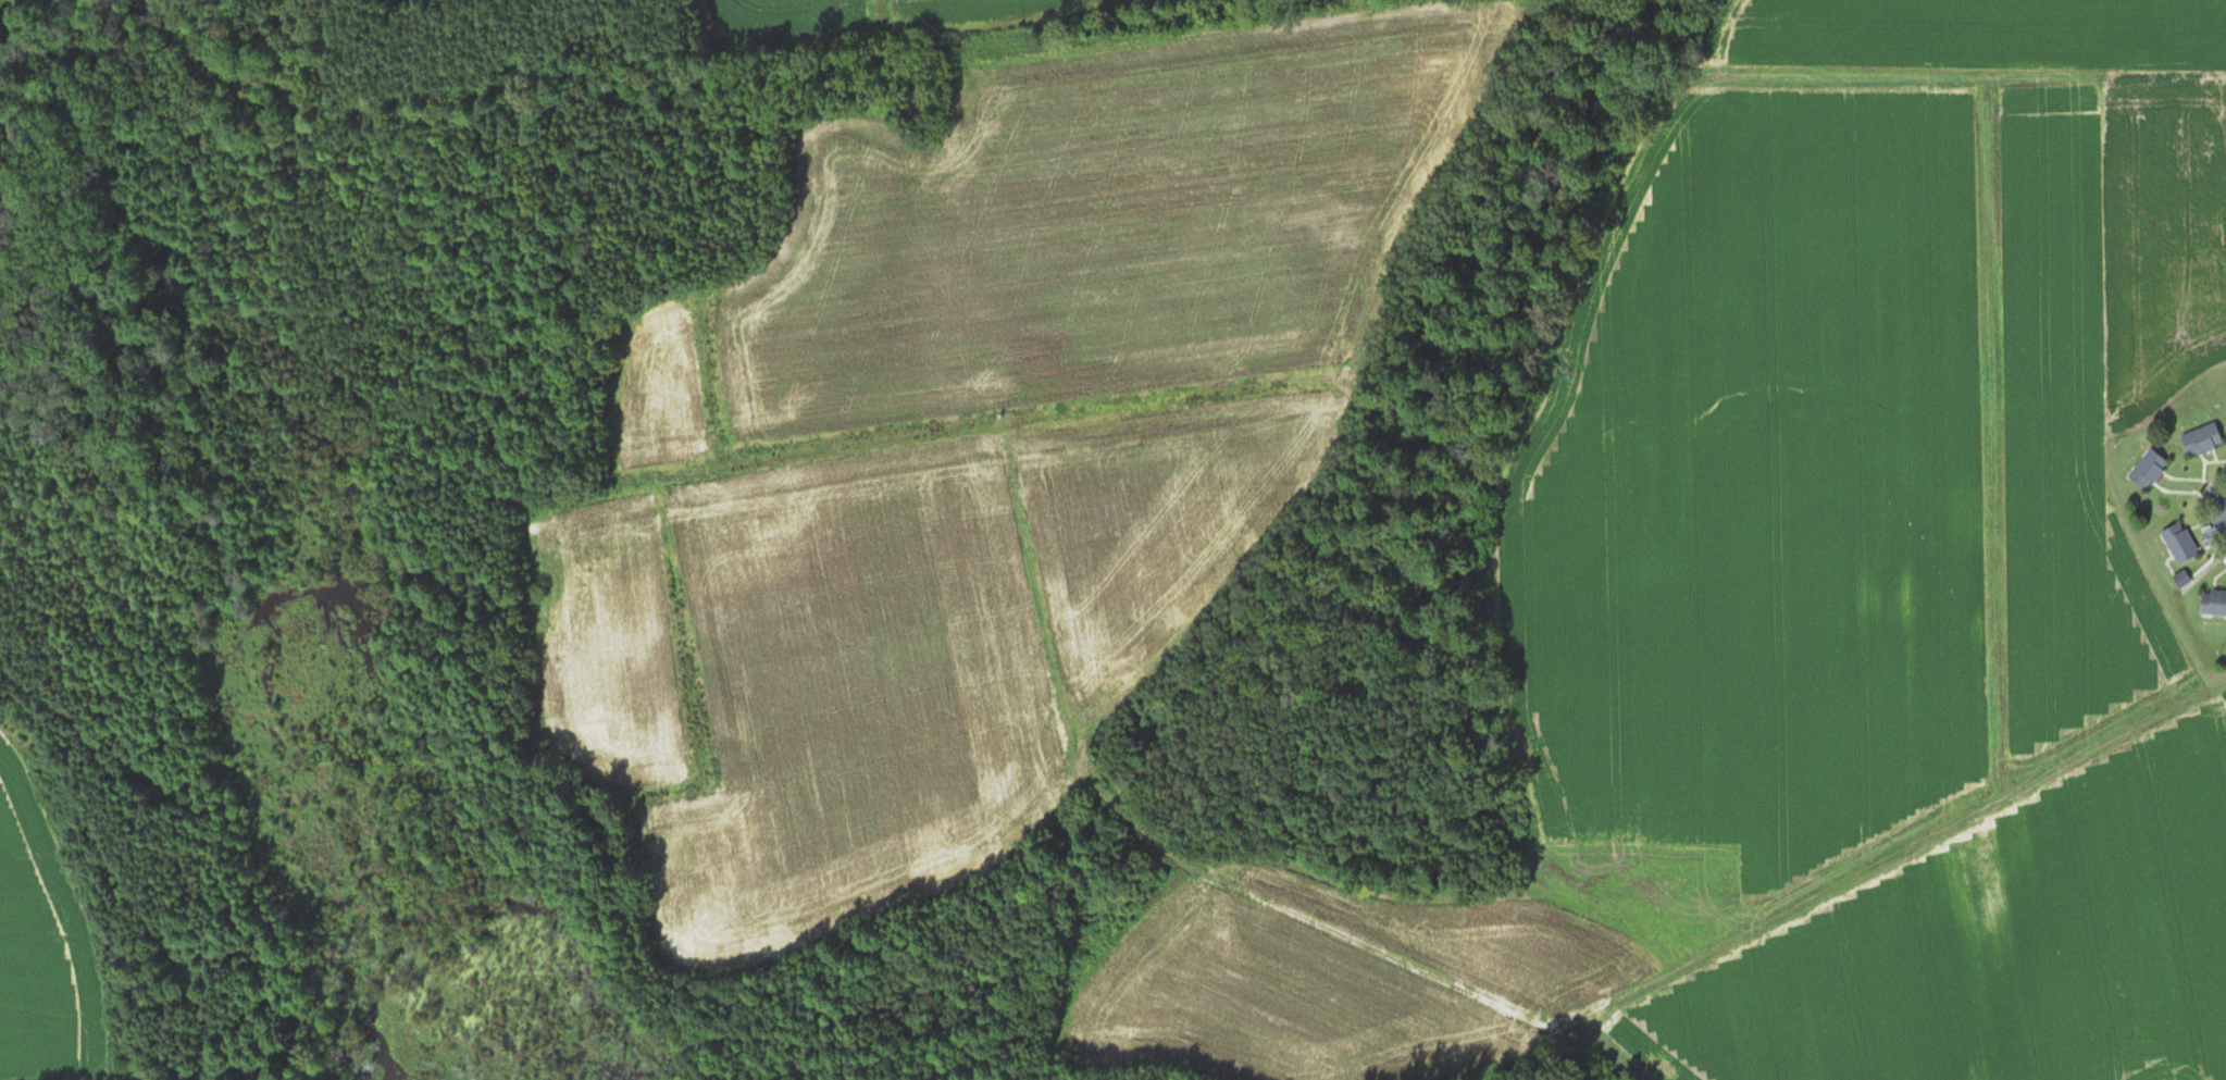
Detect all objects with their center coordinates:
building: (2201, 440)
building: (2148, 471)
road: (2225, 526)
building: (2179, 544)
building: (2213, 605)

